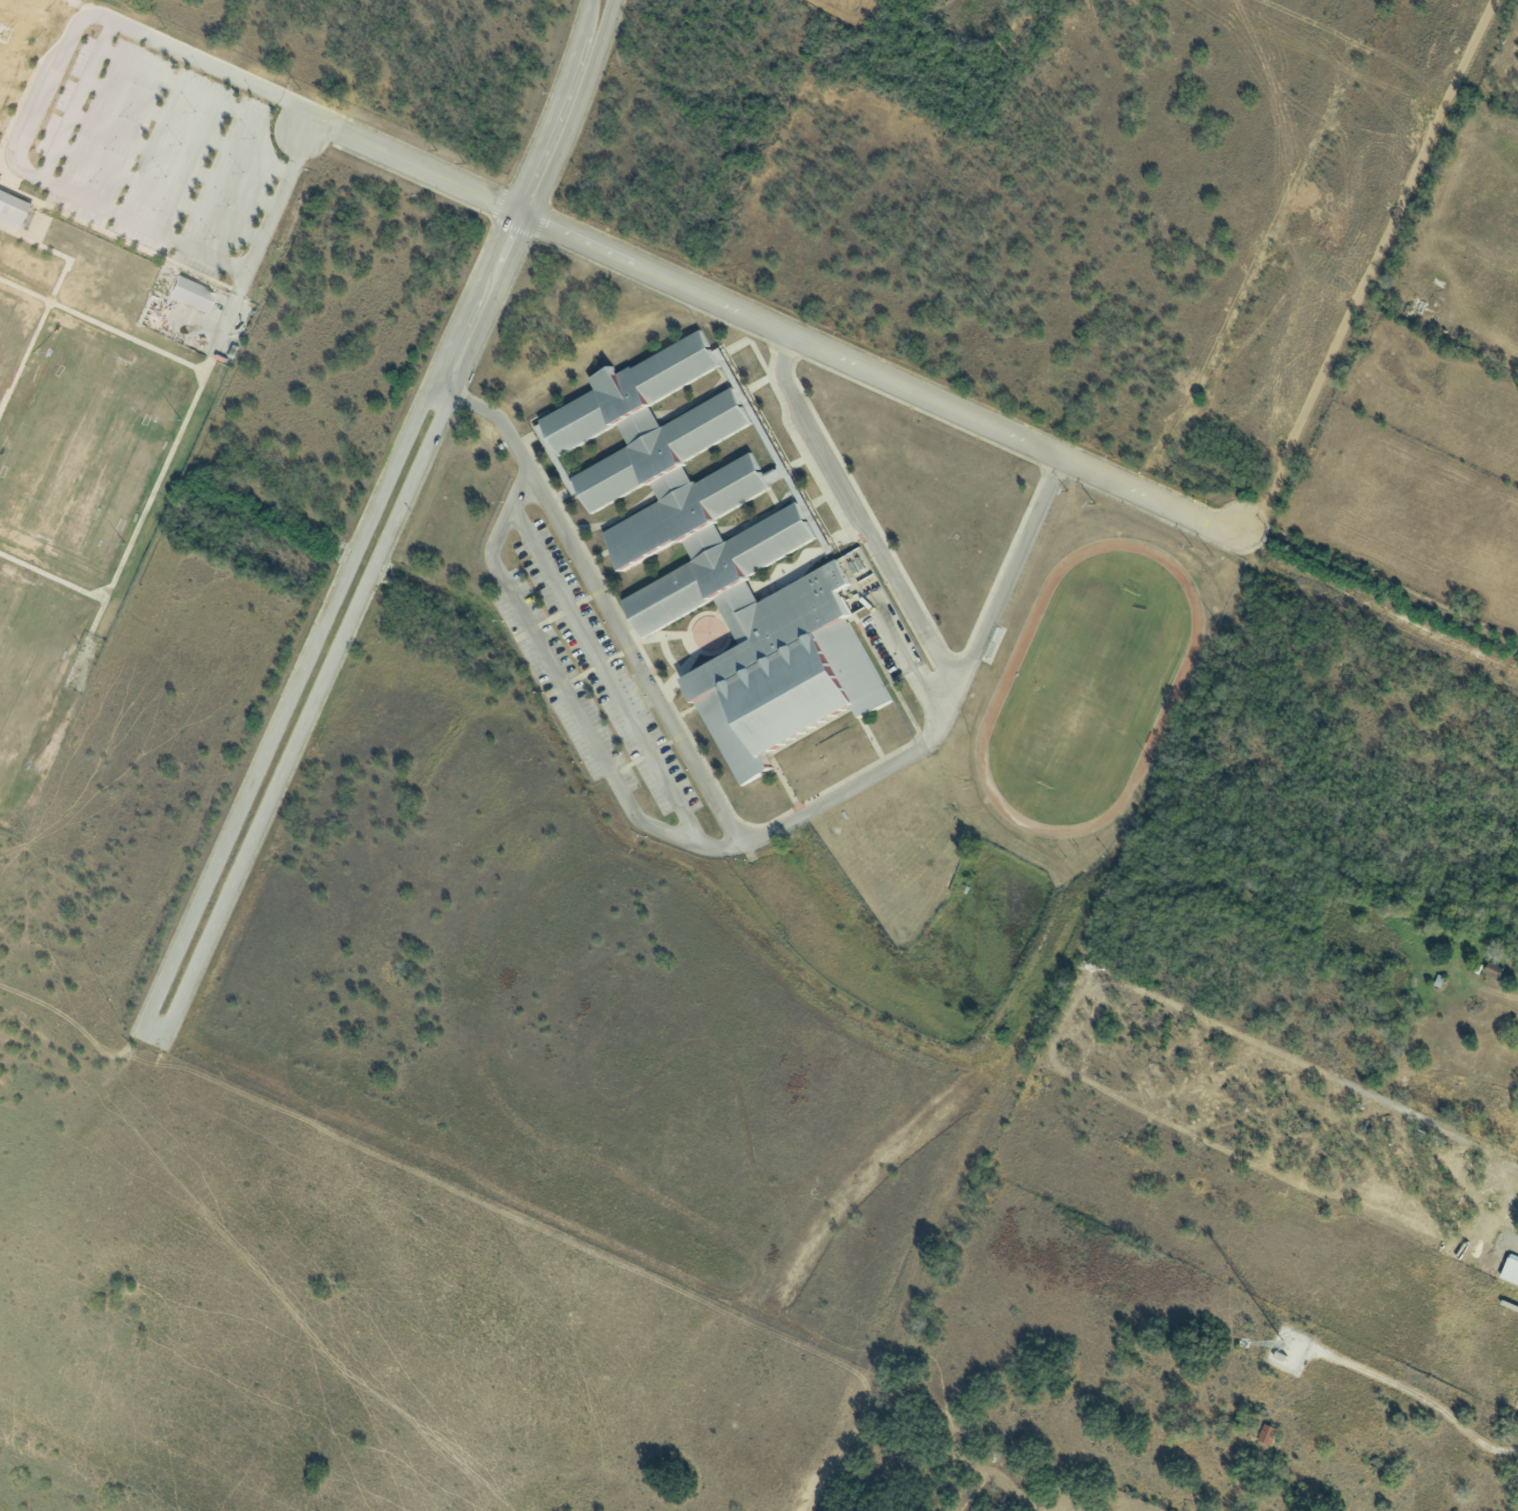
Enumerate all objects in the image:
road: (75, 100)
road: (207, 100)
road: (175, 122)
road: (173, 158)
road: (19, 159)
road: (158, 192)
building: (9, 211)
building: (186, 294)
road: (772, 326)
road: (1486, 334)
road: (861, 515)
road: (367, 526)
building: (716, 556)
road: (908, 663)
road: (606, 677)
road: (566, 693)
road: (310, 707)
road: (731, 825)
building: (1510, 1270)
road: (1405, 1413)
building: (1266, 1434)

